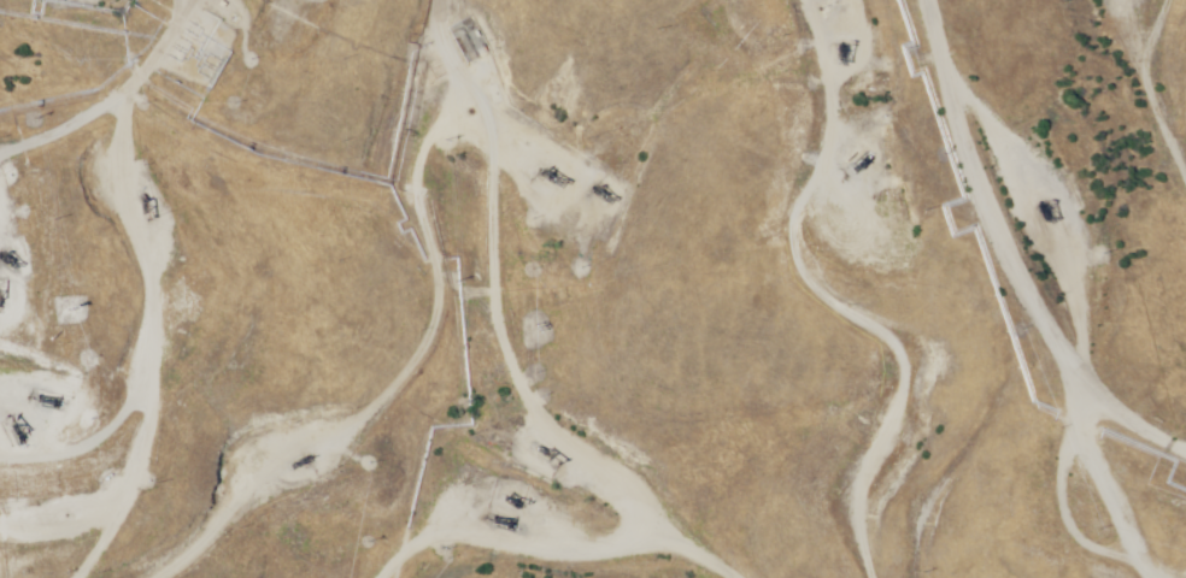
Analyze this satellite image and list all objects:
road: (932, 95)
road: (28, 125)
road: (1116, 190)
road: (33, 278)
road: (487, 297)
road: (930, 320)
road: (456, 389)
road: (460, 459)
road: (886, 465)
road: (11, 478)
road: (1129, 480)
road: (1044, 511)

